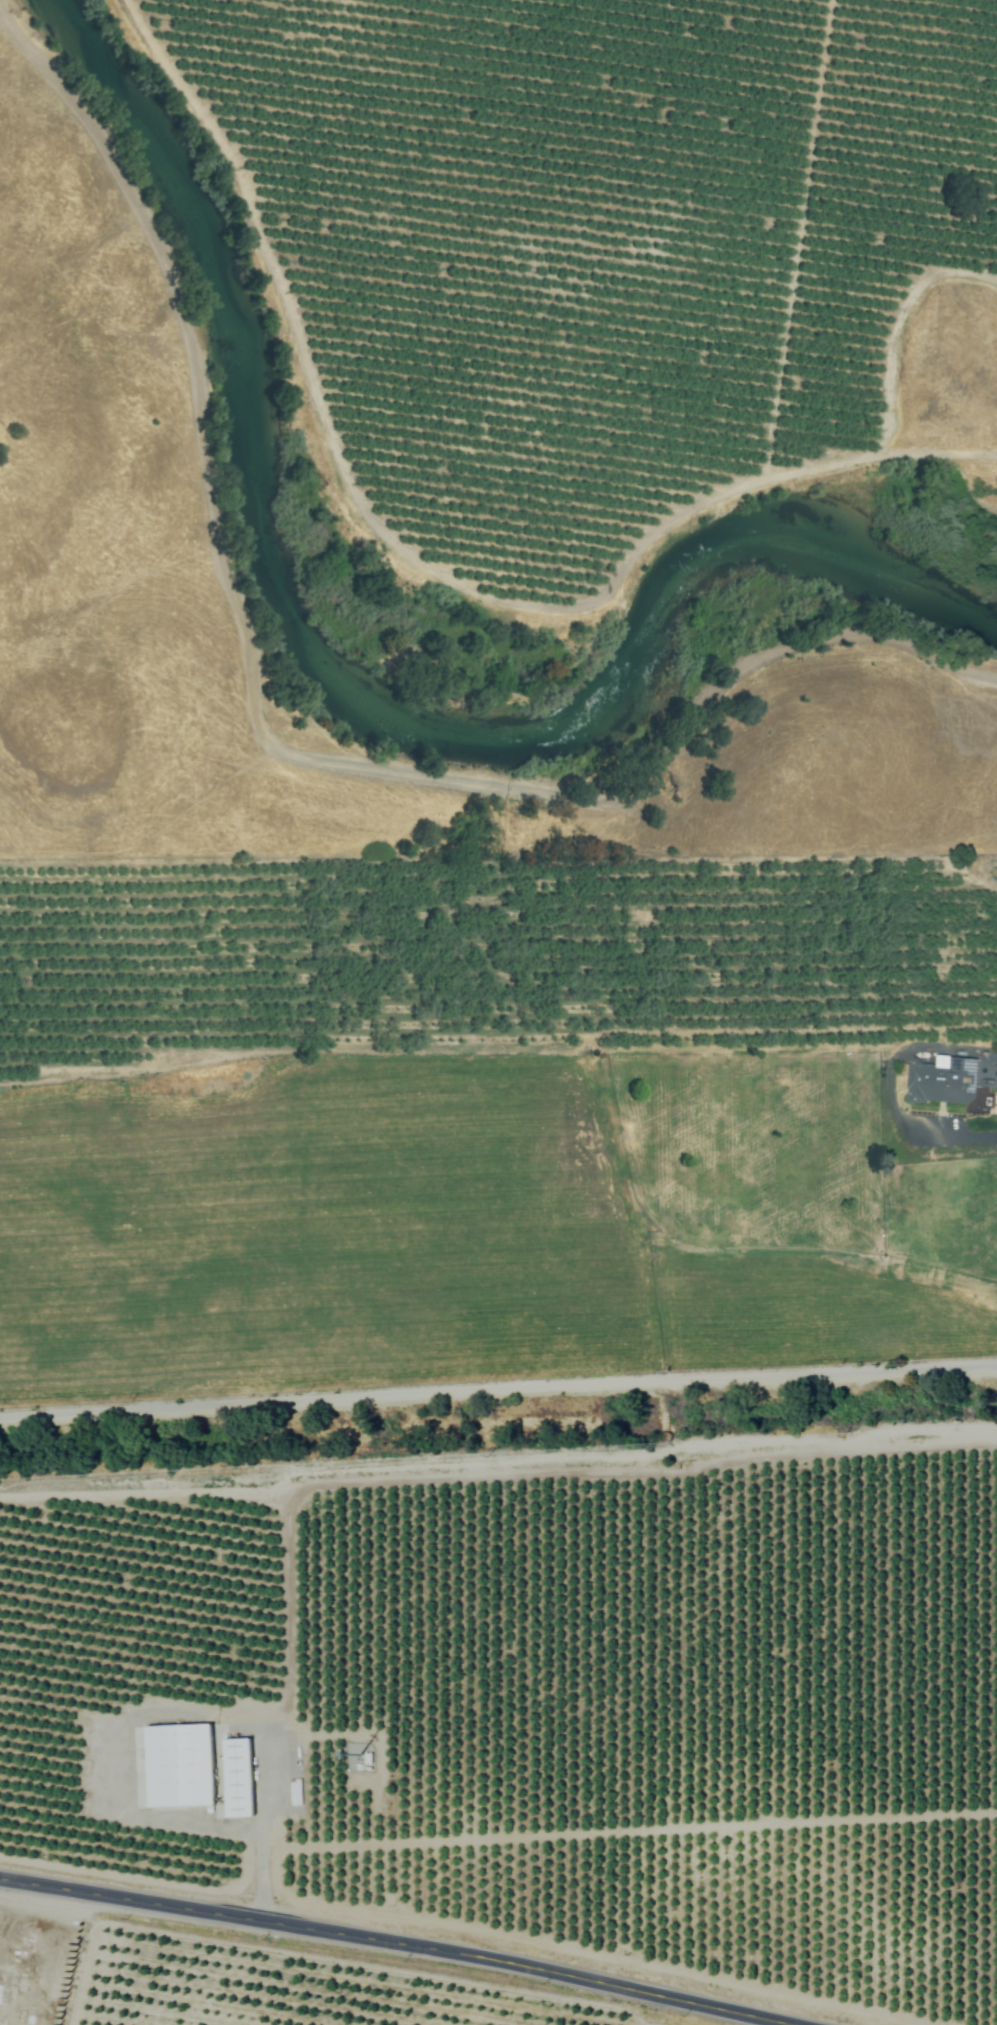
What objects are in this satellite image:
road: (993, 1075)
building: (945, 1082)
road: (498, 1391)
crop: (499, 1445)
road: (181, 1707)
building: (182, 1766)
building: (241, 1778)
road: (400, 1946)
park: (36, 1966)

